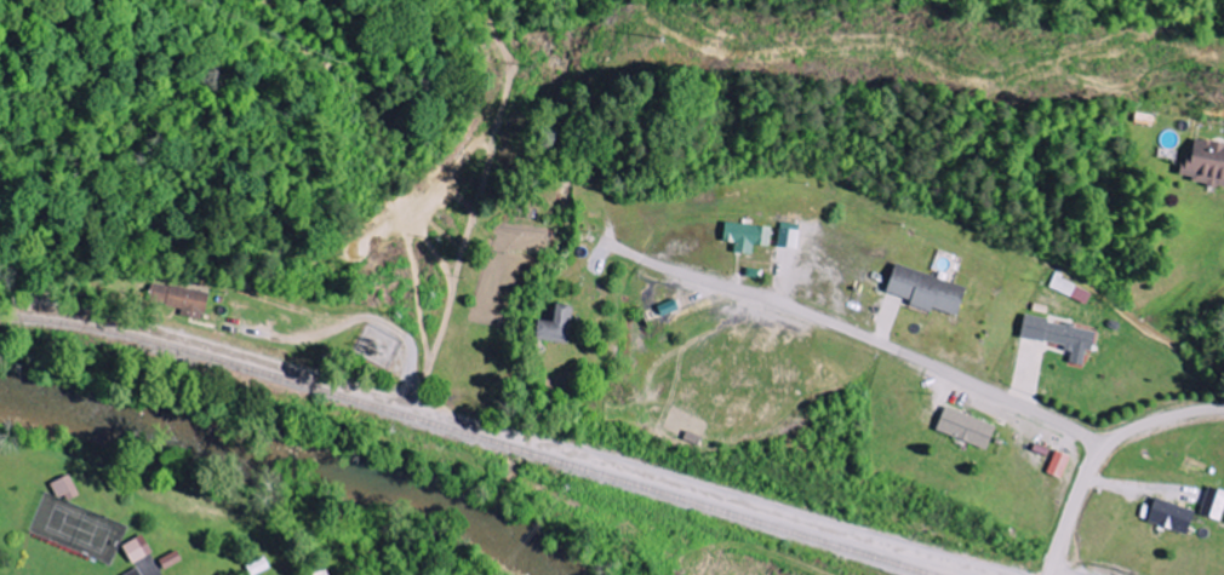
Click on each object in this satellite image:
building: (1207, 162)
building: (791, 235)
building: (749, 236)
building: (931, 291)
building: (182, 299)
building: (670, 307)
building: (559, 324)
building: (1064, 337)
building: (970, 427)
railway: (474, 432)
river: (298, 452)
road: (1102, 452)
building: (1060, 464)
road: (703, 482)
building: (67, 488)
building: (1214, 504)
building: (1174, 516)
building: (139, 548)
building: (261, 565)
building: (137, 571)
road: (155, 574)

